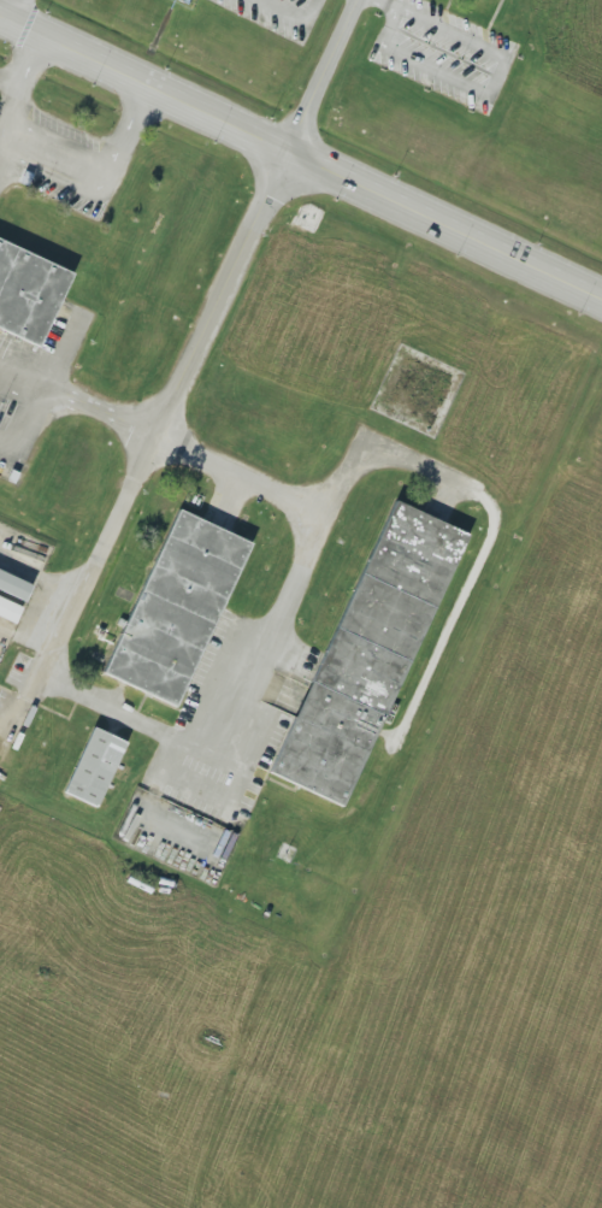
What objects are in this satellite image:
road: (386, 0)
road: (393, 4)
road: (16, 10)
parking lot: (282, 13)
road: (291, 14)
parking lot: (443, 48)
road: (24, 67)
road: (488, 92)
road: (81, 154)
road: (300, 155)
building: (25, 288)
road: (189, 369)
road: (20, 382)
road: (100, 413)
road: (29, 417)
road: (8, 441)
road: (366, 448)
road: (40, 574)
building: (12, 584)
building: (173, 606)
building: (6, 609)
road: (272, 629)
road: (26, 642)
building: (366, 652)
building: (92, 765)

